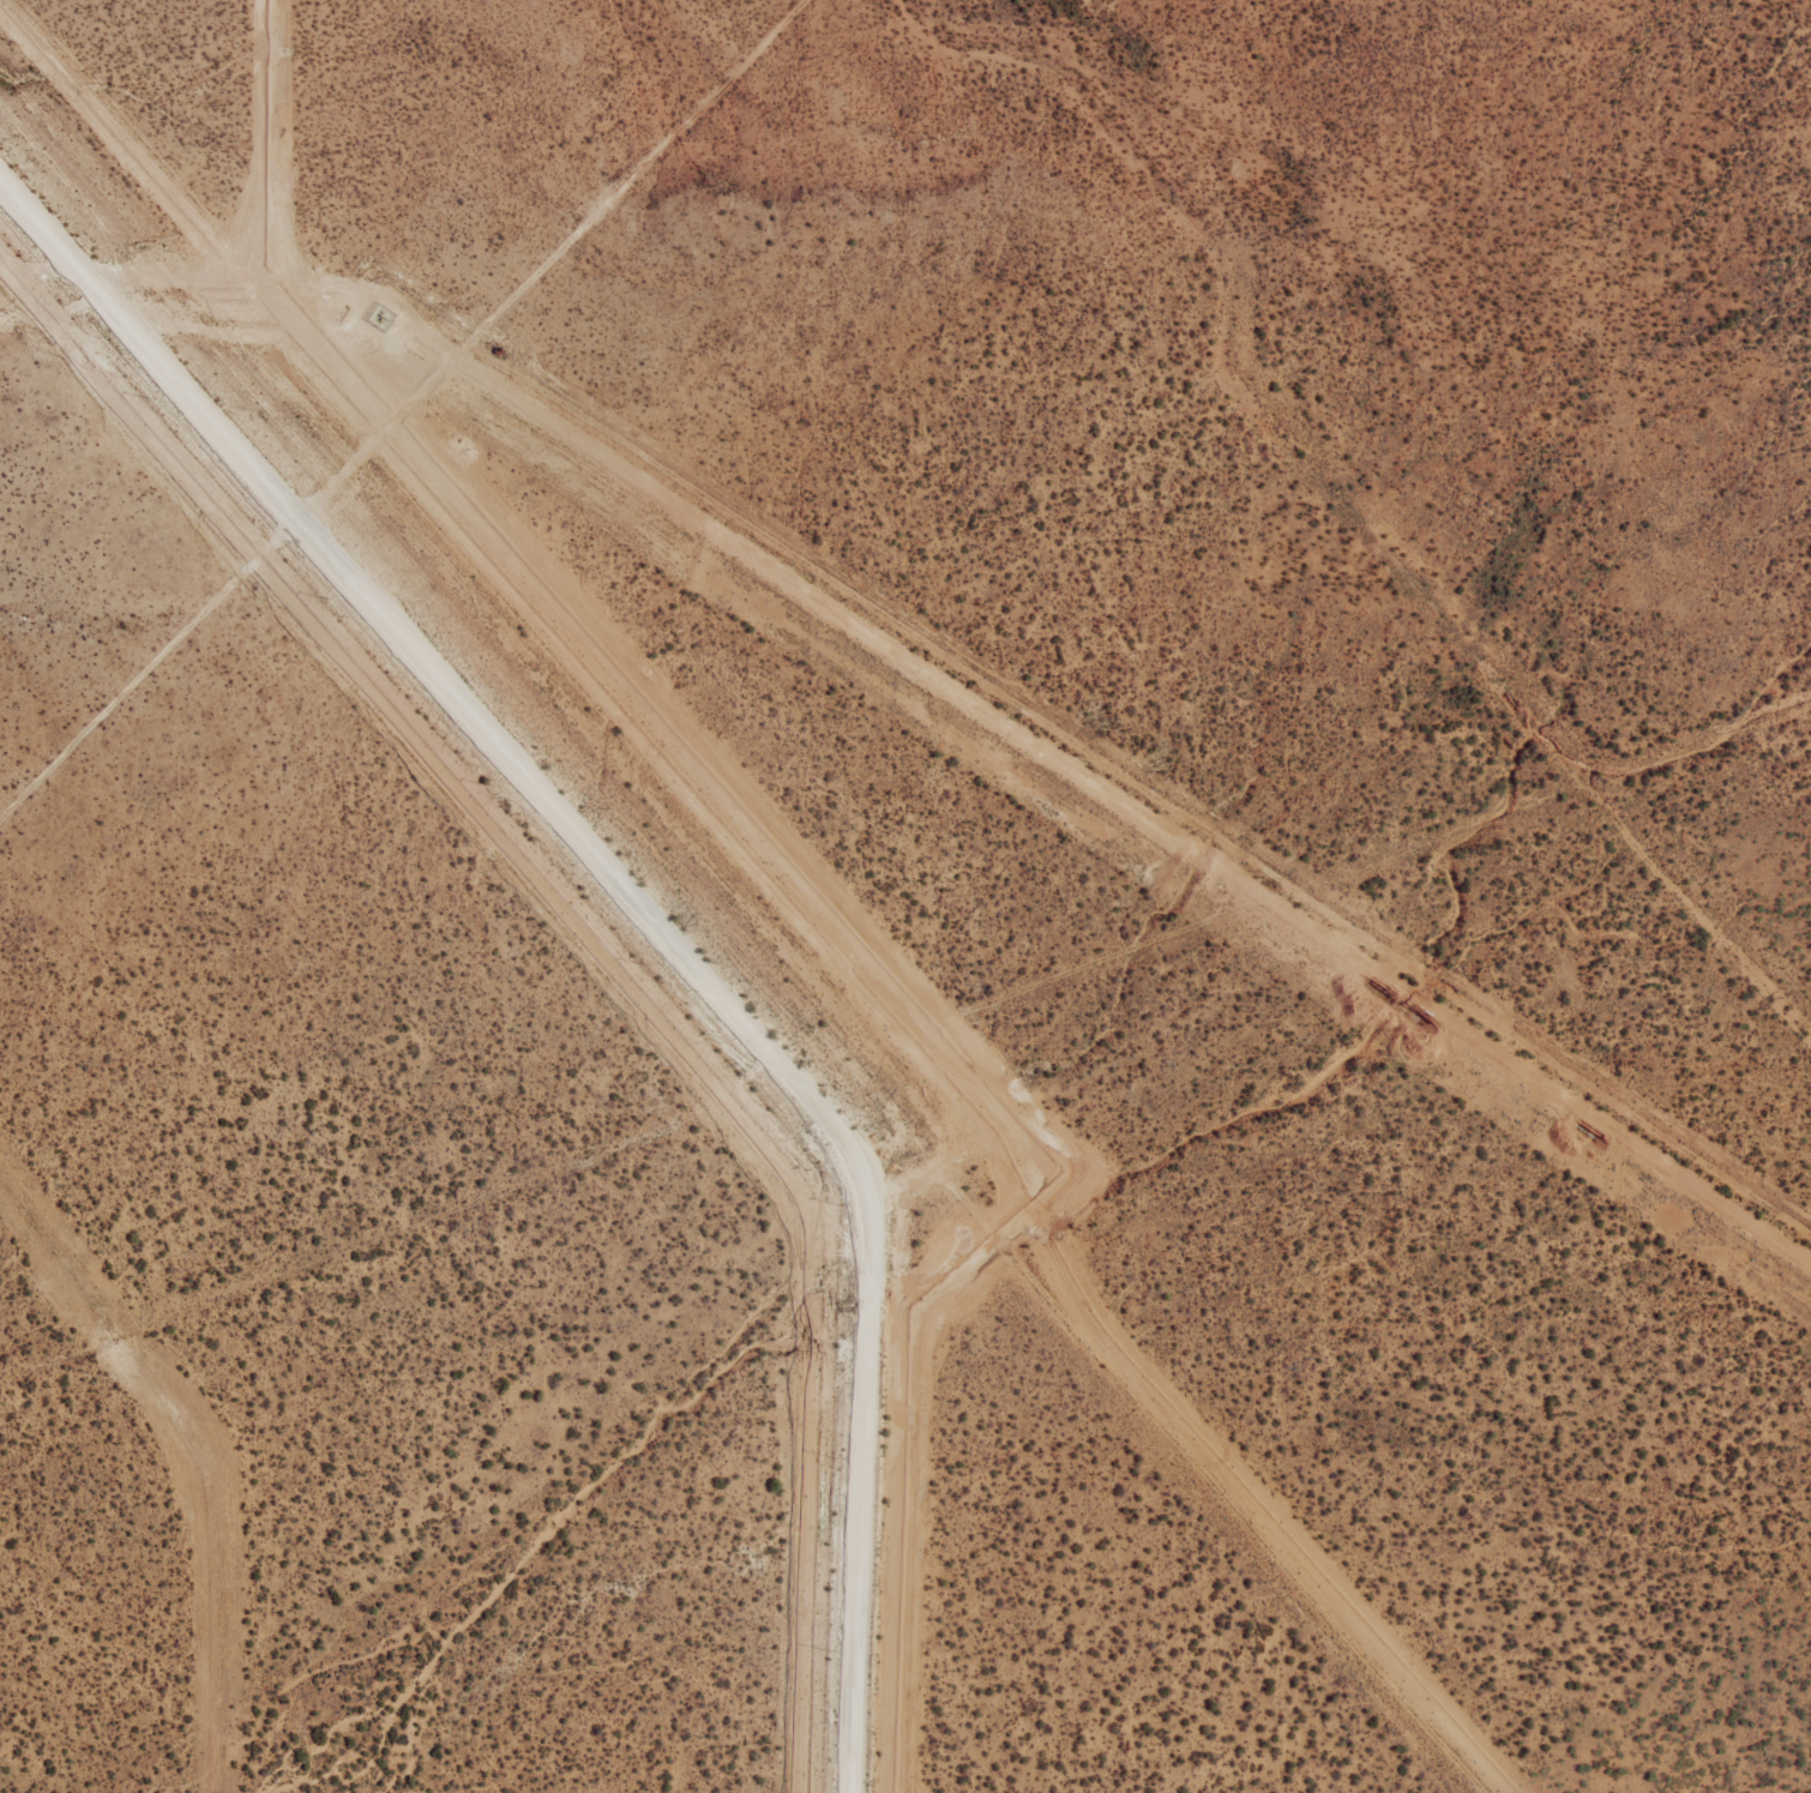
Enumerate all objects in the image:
road: (649, 901)

